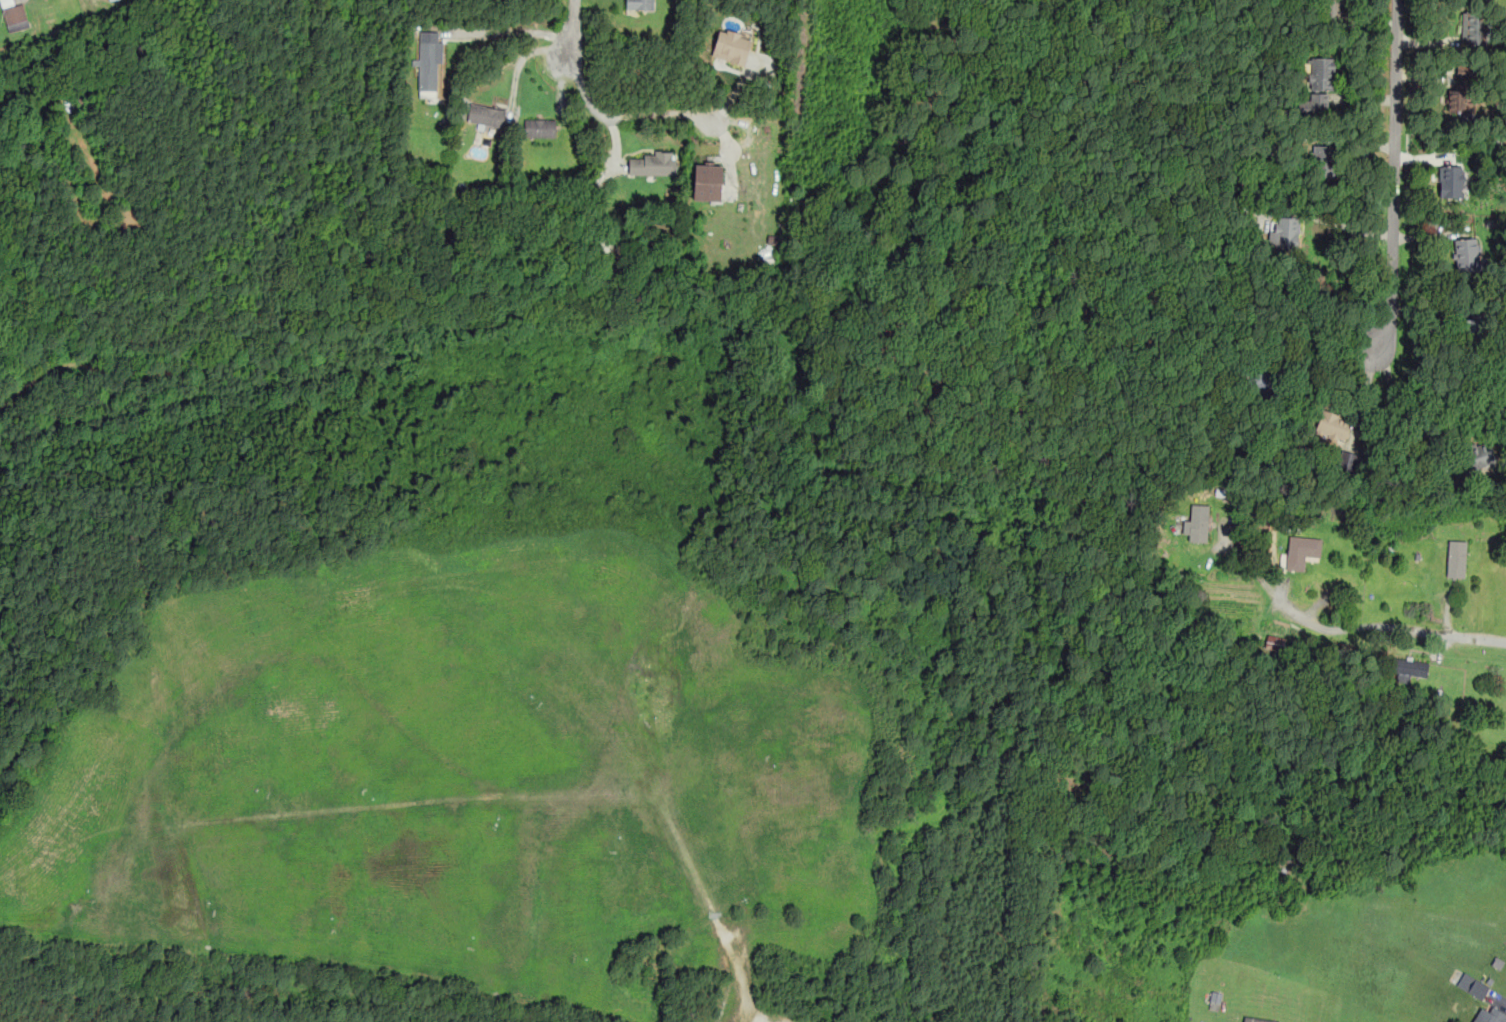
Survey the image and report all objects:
building: (639, 5)
building: (1330, 7)
building: (14, 14)
building: (1477, 27)
road: (575, 30)
road: (513, 32)
building: (731, 47)
road: (520, 61)
building: (429, 62)
building: (1322, 73)
building: (1462, 91)
road: (733, 95)
building: (1318, 101)
building: (486, 116)
road: (623, 118)
building: (540, 128)
building: (1324, 161)
building: (652, 163)
road: (1394, 178)
building: (1452, 181)
building: (708, 183)
road: (1347, 226)
building: (1284, 232)
building: (1467, 255)
road: (1327, 372)
road: (1397, 406)
building: (1333, 424)
building: (1477, 457)
building: (1349, 458)
building: (1198, 523)
building: (1302, 551)
building: (1456, 558)
road: (1357, 629)
building: (1413, 667)
building: (1498, 962)
building: (1478, 988)
building: (1489, 1016)
building: (1258, 1019)

